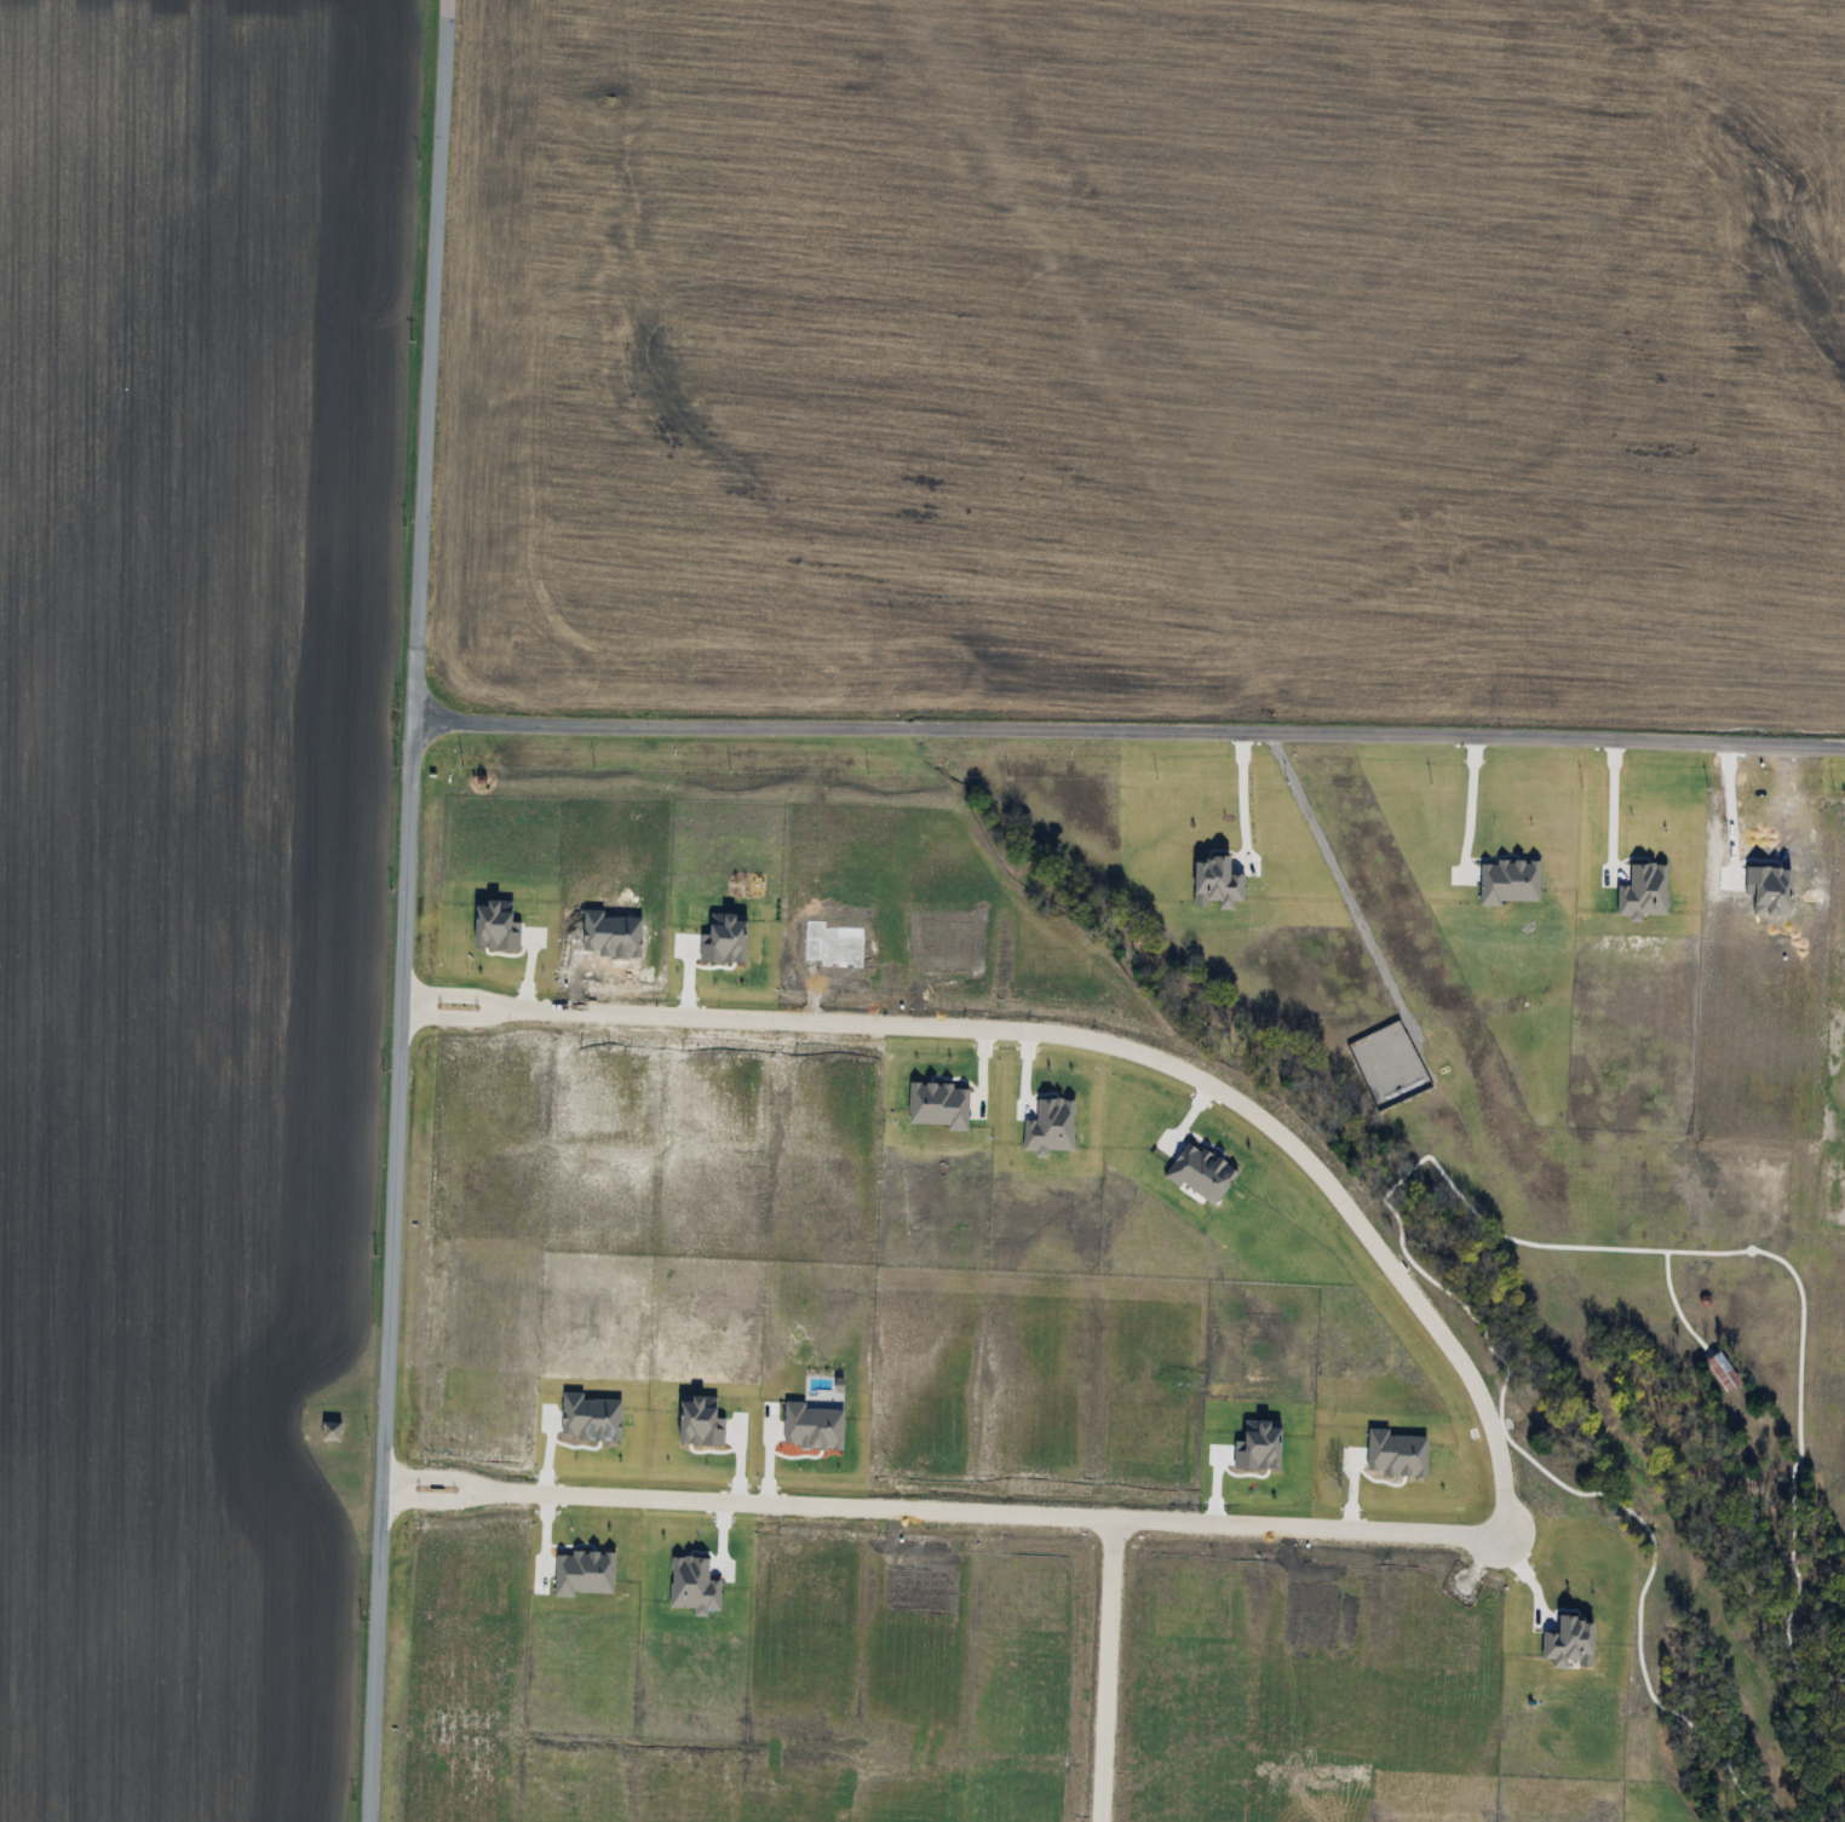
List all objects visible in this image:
road: (1128, 731)
road: (1241, 792)
road: (1467, 799)
road: (1610, 805)
road: (1341, 879)
road: (403, 910)
road: (450, 995)
road: (450, 1018)
road: (1479, 1407)
building: (329, 1432)
road: (437, 1473)
road: (436, 1501)
road: (723, 1571)
road: (1104, 1668)

